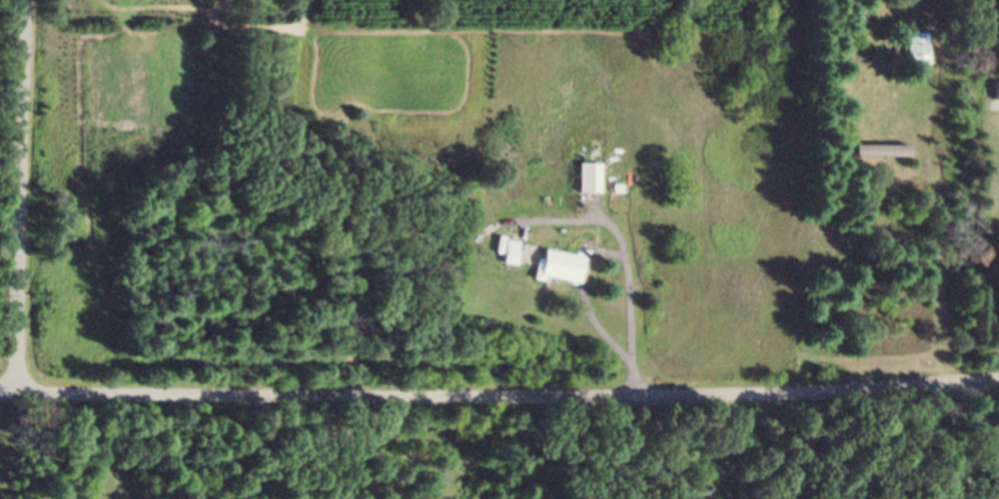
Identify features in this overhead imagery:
building: (921, 56)
building: (997, 99)
building: (882, 157)
building: (590, 184)
road: (20, 196)
road: (612, 253)
building: (511, 259)
building: (560, 273)
road: (499, 395)

